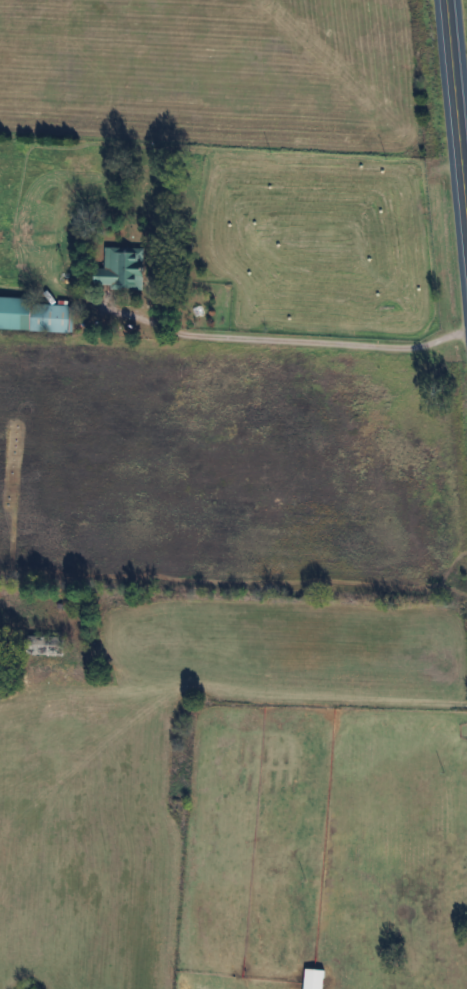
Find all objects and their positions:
road: (456, 115)
building: (122, 268)
building: (35, 314)
road: (298, 339)
building: (46, 644)
road: (310, 694)
building: (314, 978)

